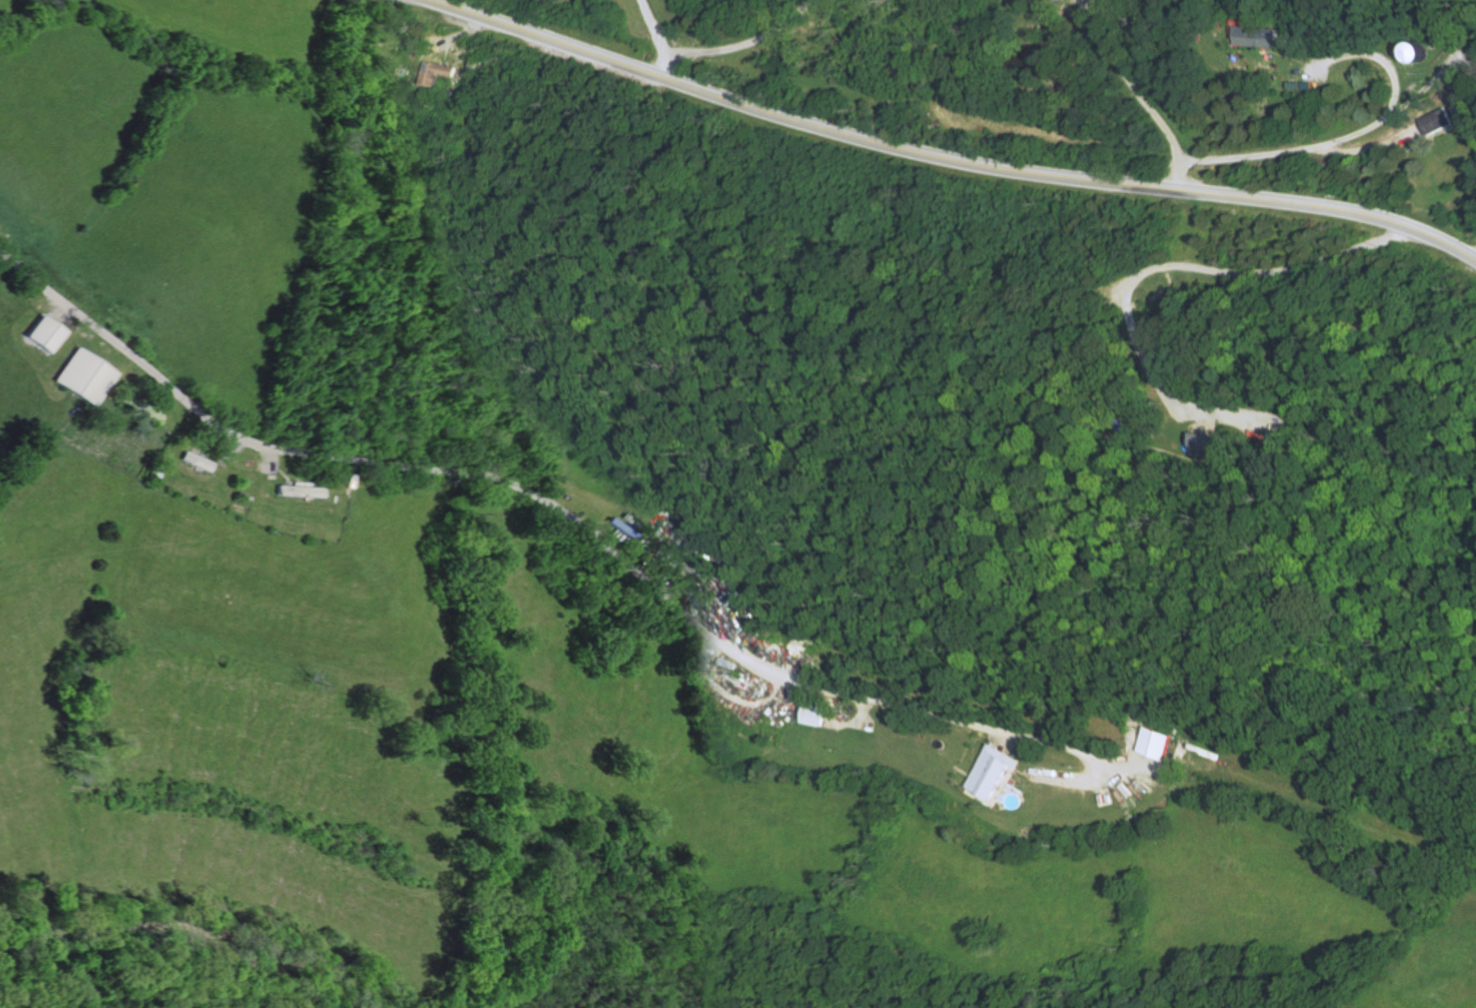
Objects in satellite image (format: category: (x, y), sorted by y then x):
road: (647, 26)
road: (457, 32)
building: (1259, 37)
road: (740, 44)
water tower: (1417, 53)
road: (1377, 57)
road: (659, 65)
building: (468, 66)
building: (397, 72)
building: (429, 73)
road: (1126, 82)
building: (1292, 86)
road: (1393, 109)
building: (1430, 122)
road: (1359, 148)
road: (1242, 154)
road: (945, 158)
road: (1176, 176)
road: (1470, 252)
road: (1142, 269)
building: (43, 333)
building: (81, 377)
building: (1215, 445)
road: (231, 446)
road: (265, 460)
building: (195, 461)
building: (154, 472)
building: (345, 481)
building: (297, 491)
building: (244, 497)
road: (571, 525)
road: (721, 619)
road: (766, 701)
building: (818, 713)
road: (864, 724)
road: (1015, 741)
building: (1166, 742)
building: (998, 770)
road: (1083, 780)
road: (1321, 826)

